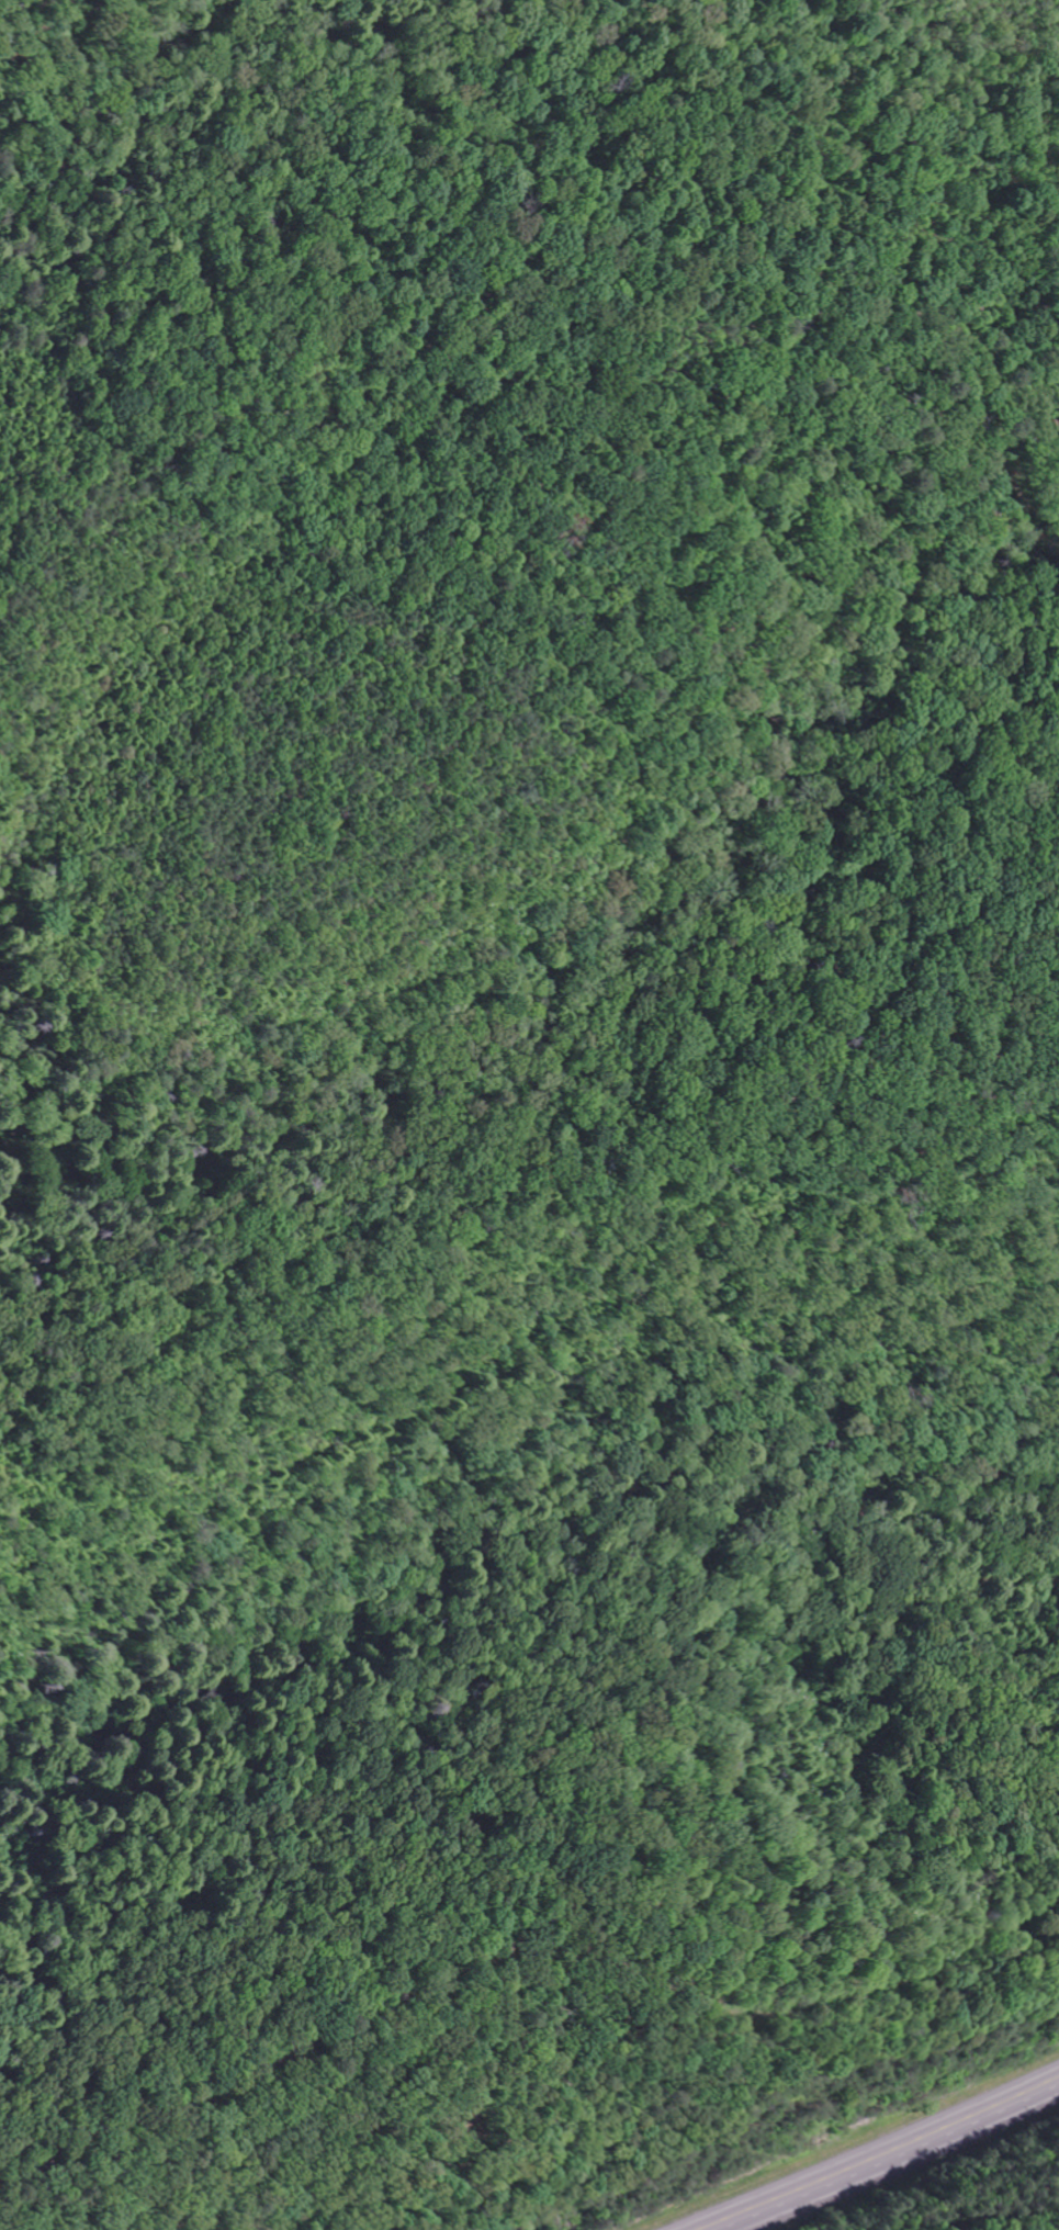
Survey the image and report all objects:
road: (898, 2163)

